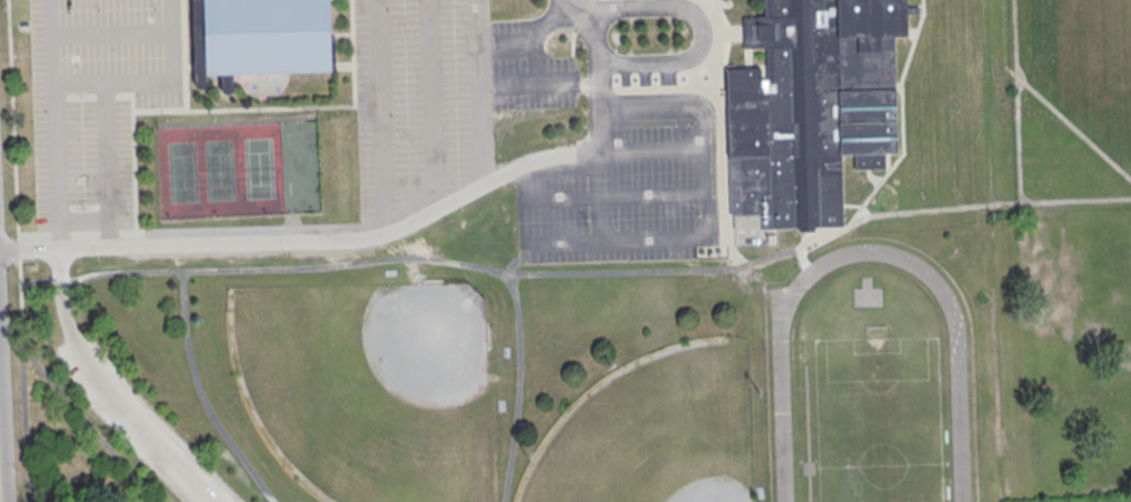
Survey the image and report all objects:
road: (698, 18)
road: (110, 31)
road: (730, 31)
road: (910, 32)
road: (341, 36)
road: (529, 37)
building: (258, 38)
road: (572, 39)
road: (182, 54)
road: (534, 60)
road: (343, 64)
road: (152, 81)
road: (526, 84)
road: (896, 84)
road: (645, 88)
road: (480, 91)
road: (105, 94)
road: (79, 96)
road: (59, 97)
road: (1015, 100)
parking lot: (96, 101)
road: (431, 103)
road: (296, 107)
building: (811, 107)
road: (900, 114)
road: (381, 116)
road: (12, 118)
road: (53, 122)
road: (1069, 123)
road: (720, 130)
road: (886, 162)
road: (107, 163)
road: (133, 163)
park: (300, 167)
park: (220, 170)
road: (870, 177)
road: (601, 191)
road: (852, 204)
road: (711, 211)
road: (376, 233)
road: (59, 234)
road: (85, 234)
road: (109, 234)
road: (33, 235)
road: (806, 238)
road: (820, 238)
road: (18, 245)
park: (255, 251)
road: (801, 257)
road: (216, 268)
road: (119, 271)
road: (21, 304)
road: (38, 369)
park: (631, 381)
track: (869, 384)
park: (369, 385)
road: (517, 385)
road: (106, 390)
track: (782, 418)
park: (877, 419)
parking lot: (139, 422)
park: (654, 430)

